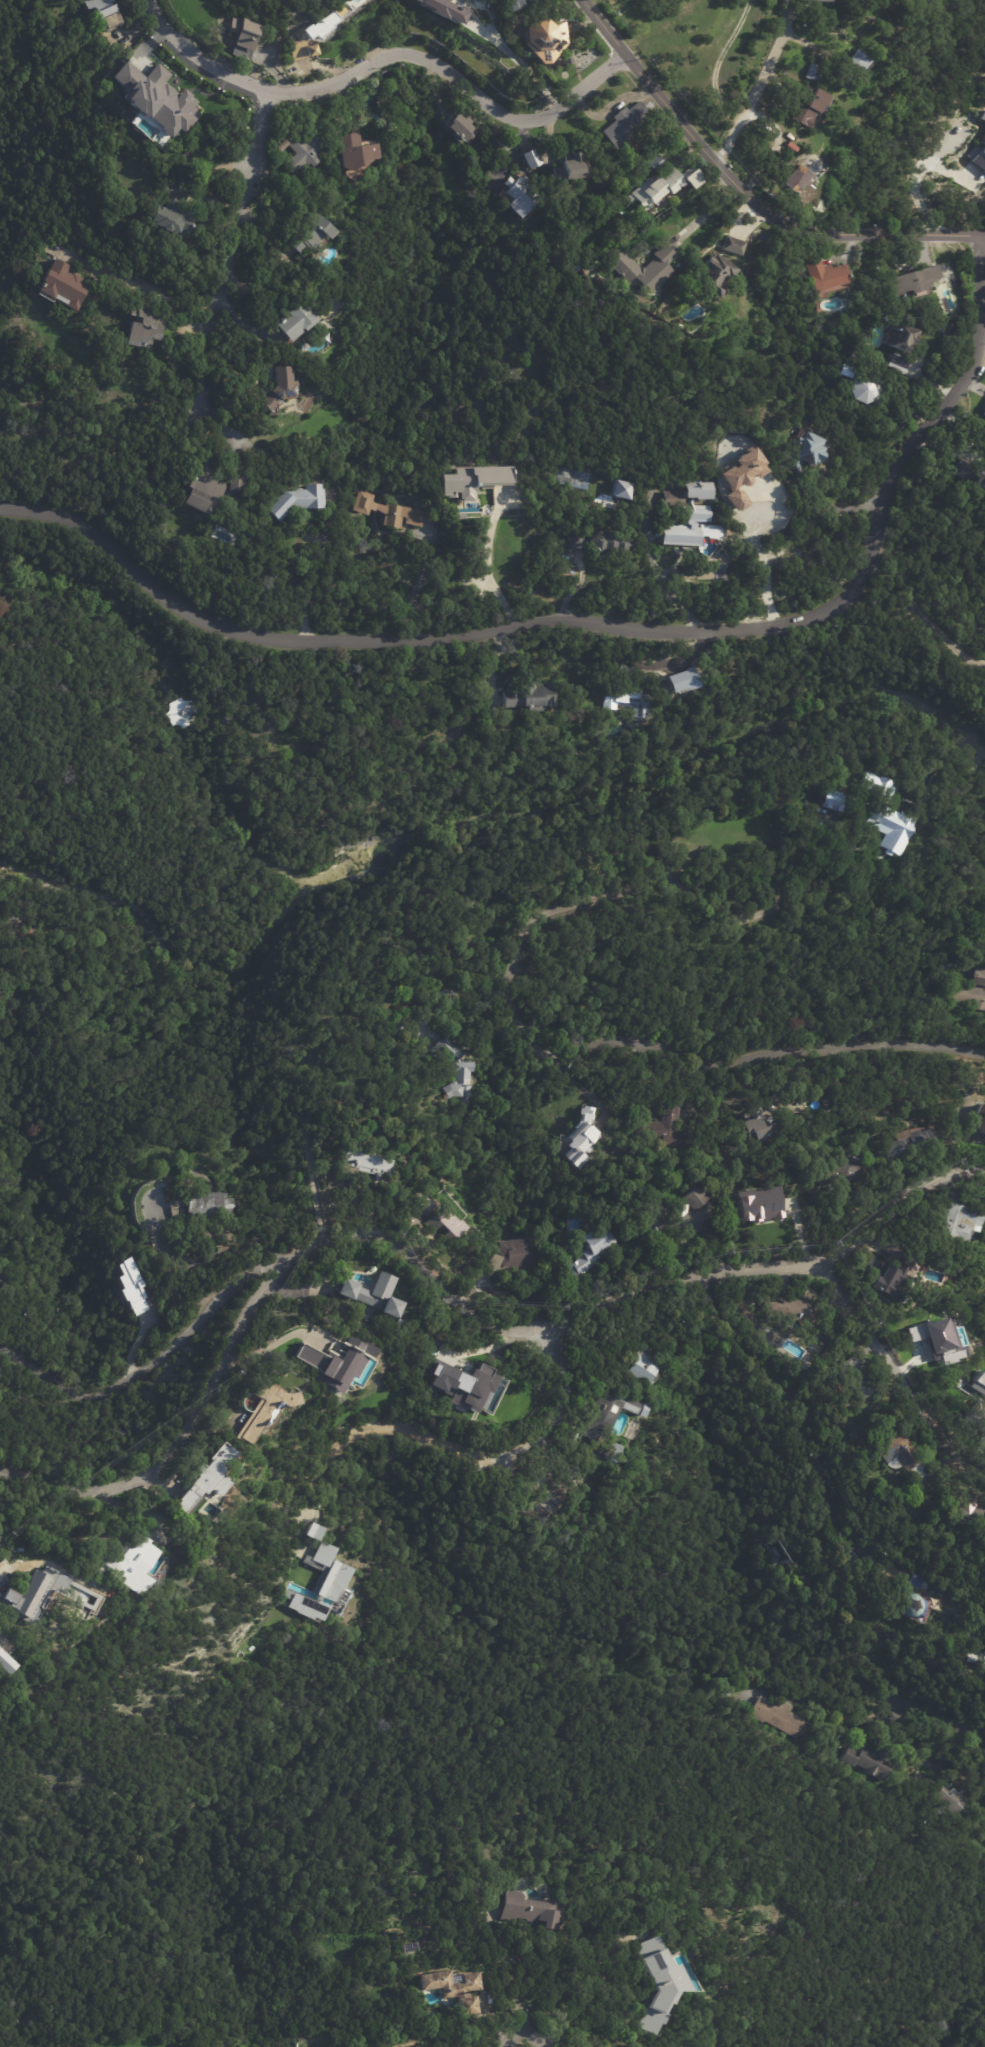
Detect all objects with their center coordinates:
building: (816, 0)
building: (510, 3)
building: (443, 9)
building: (104, 13)
building: (325, 25)
building: (244, 33)
building: (542, 38)
building: (304, 52)
road: (385, 56)
road: (517, 59)
building: (849, 69)
building: (814, 72)
road: (758, 85)
building: (181, 104)
building: (809, 107)
building: (982, 116)
building: (624, 124)
building: (456, 128)
road: (259, 130)
building: (668, 138)
building: (275, 145)
building: (352, 149)
building: (302, 150)
building: (978, 155)
building: (529, 157)
building: (654, 161)
building: (569, 166)
building: (800, 173)
road: (918, 173)
building: (690, 178)
building: (655, 187)
road: (743, 193)
building: (516, 194)
building: (169, 211)
building: (306, 230)
building: (733, 245)
building: (573, 267)
building: (587, 268)
building: (641, 268)
building: (714, 274)
building: (824, 275)
building: (914, 282)
building: (60, 286)
road: (222, 290)
road: (160, 293)
building: (290, 321)
building: (139, 324)
building: (899, 337)
building: (895, 363)
building: (276, 385)
building: (863, 388)
building: (909, 401)
building: (983, 414)
building: (805, 451)
building: (741, 476)
building: (981, 477)
building: (473, 479)
building: (231, 483)
building: (199, 490)
building: (619, 490)
building: (295, 501)
building: (385, 511)
building: (686, 514)
building: (599, 543)
road: (754, 555)
road: (484, 567)
road: (656, 570)
road: (413, 581)
road: (310, 586)
road: (922, 614)
road: (606, 624)
road: (682, 657)
building: (528, 695)
building: (625, 701)
building: (187, 715)
building: (834, 799)
building: (888, 814)
road: (843, 870)
building: (971, 990)
road: (584, 1048)
building: (455, 1073)
building: (978, 1121)
building: (662, 1128)
building: (756, 1130)
building: (579, 1139)
building: (907, 1143)
building: (363, 1169)
building: (842, 1172)
building: (692, 1197)
building: (203, 1203)
building: (758, 1204)
building: (422, 1207)
building: (670, 1219)
building: (959, 1222)
building: (444, 1226)
building: (591, 1250)
building: (511, 1254)
road: (200, 1259)
building: (892, 1279)
building: (3, 1284)
building: (130, 1287)
road: (441, 1287)
building: (372, 1294)
building: (790, 1310)
building: (398, 1326)
building: (903, 1331)
building: (928, 1337)
road: (255, 1349)
building: (331, 1364)
building: (638, 1366)
road: (900, 1366)
road: (149, 1368)
building: (856, 1378)
building: (461, 1385)
road: (793, 1401)
building: (264, 1407)
building: (606, 1415)
road: (470, 1451)
building: (611, 1452)
building: (899, 1454)
building: (199, 1480)
building: (550, 1494)
building: (925, 1501)
building: (968, 1511)
building: (309, 1533)
building: (773, 1552)
building: (131, 1562)
building: (916, 1581)
building: (320, 1586)
building: (31, 1592)
building: (910, 1606)
building: (975, 1659)
building: (9, 1661)
building: (727, 1694)
road: (934, 1716)
building: (781, 1717)
building: (871, 1761)
building: (954, 1799)
building: (528, 1909)
building: (407, 1946)
building: (656, 1982)
road: (515, 1985)
building: (454, 1987)
road: (583, 2002)
road: (526, 2046)

